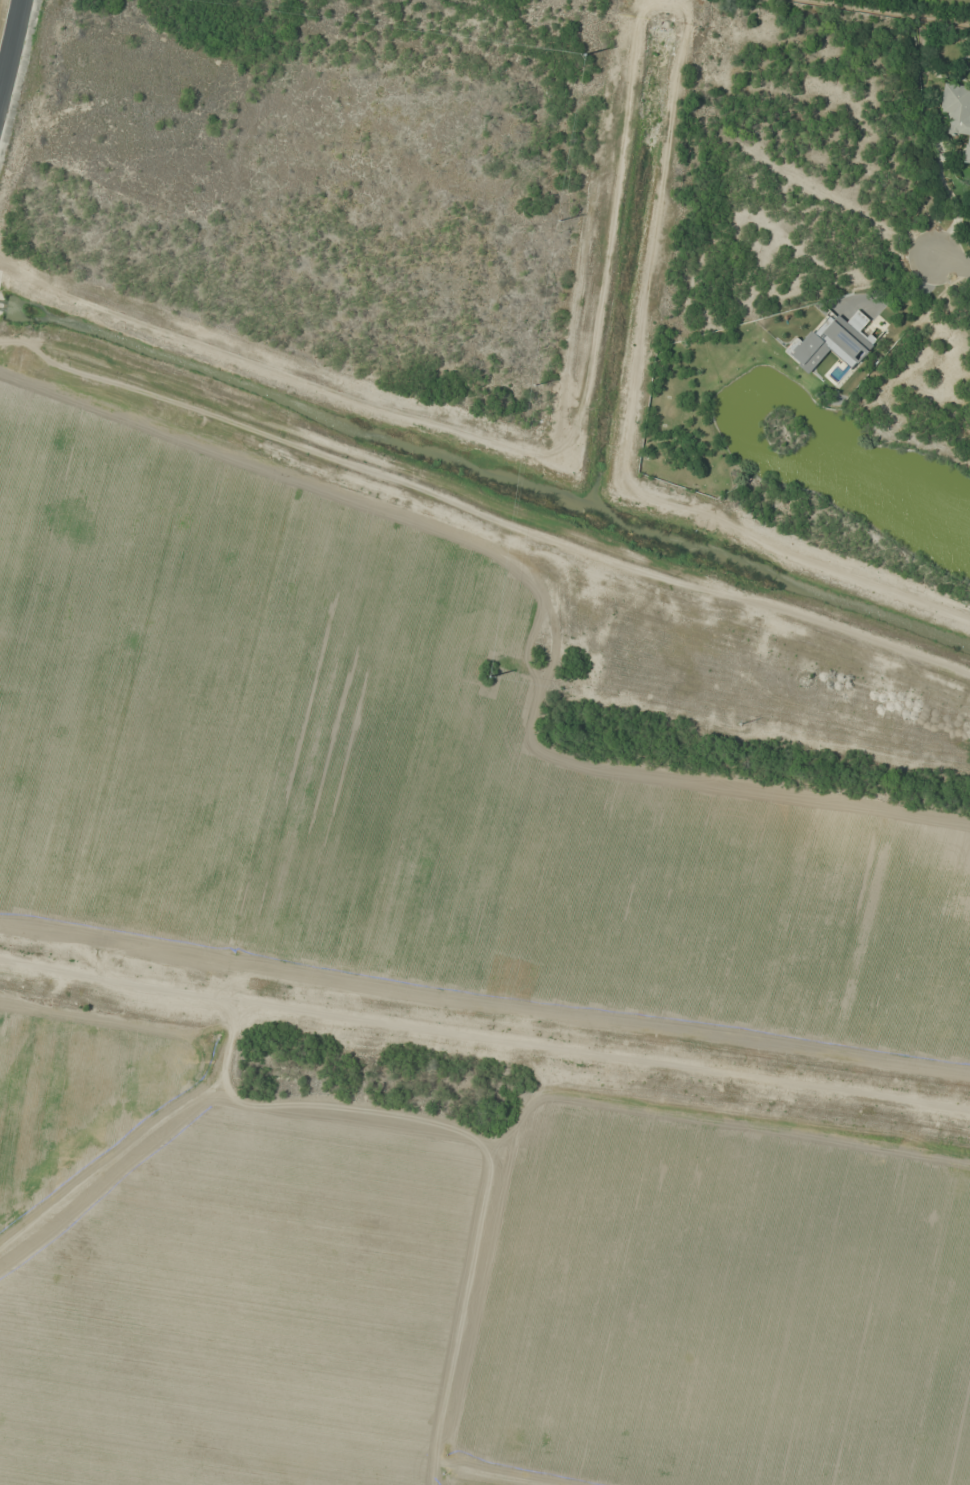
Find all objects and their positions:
road: (14, 56)
building: (957, 113)
road: (952, 256)
river: (838, 470)
river: (485, 474)

